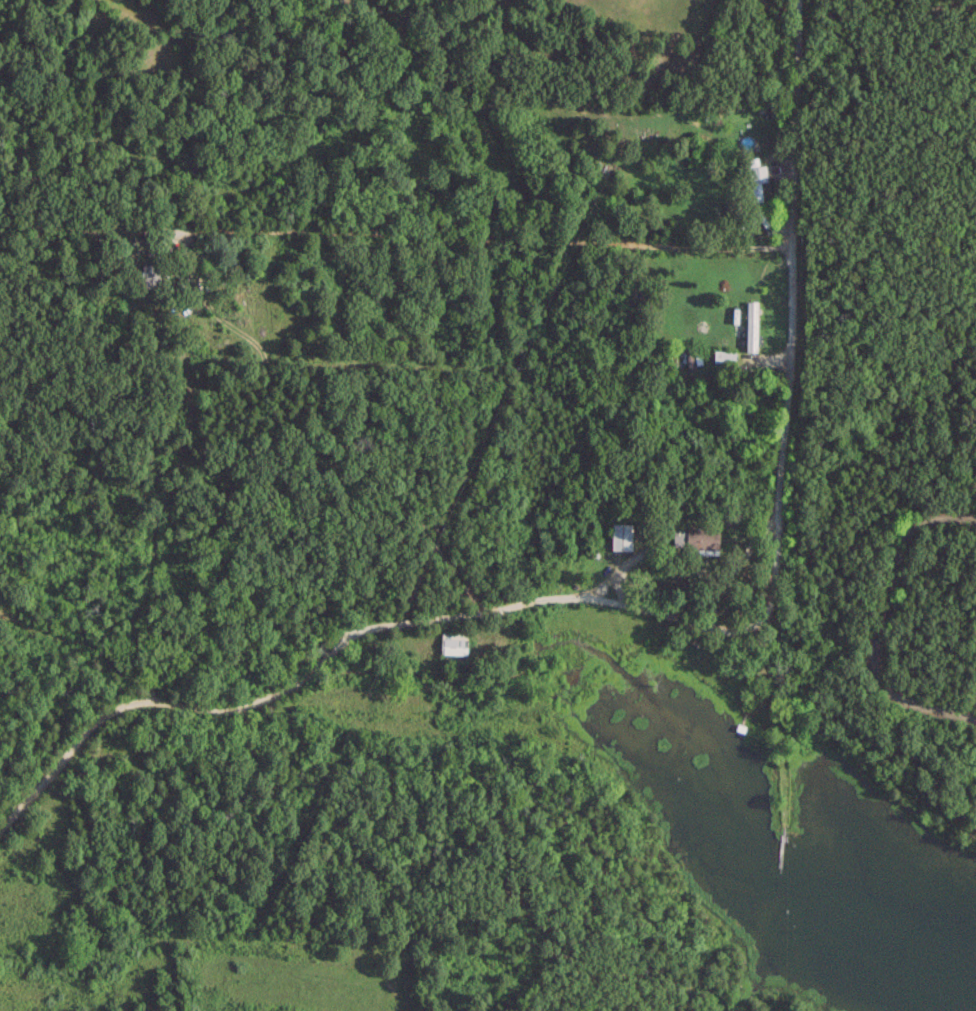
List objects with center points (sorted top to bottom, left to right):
building: (754, 179)
building: (734, 205)
road: (476, 218)
building: (150, 274)
building: (751, 325)
building: (724, 356)
building: (621, 535)
building: (701, 540)
road: (689, 570)
road: (892, 590)
road: (665, 619)
building: (453, 644)

